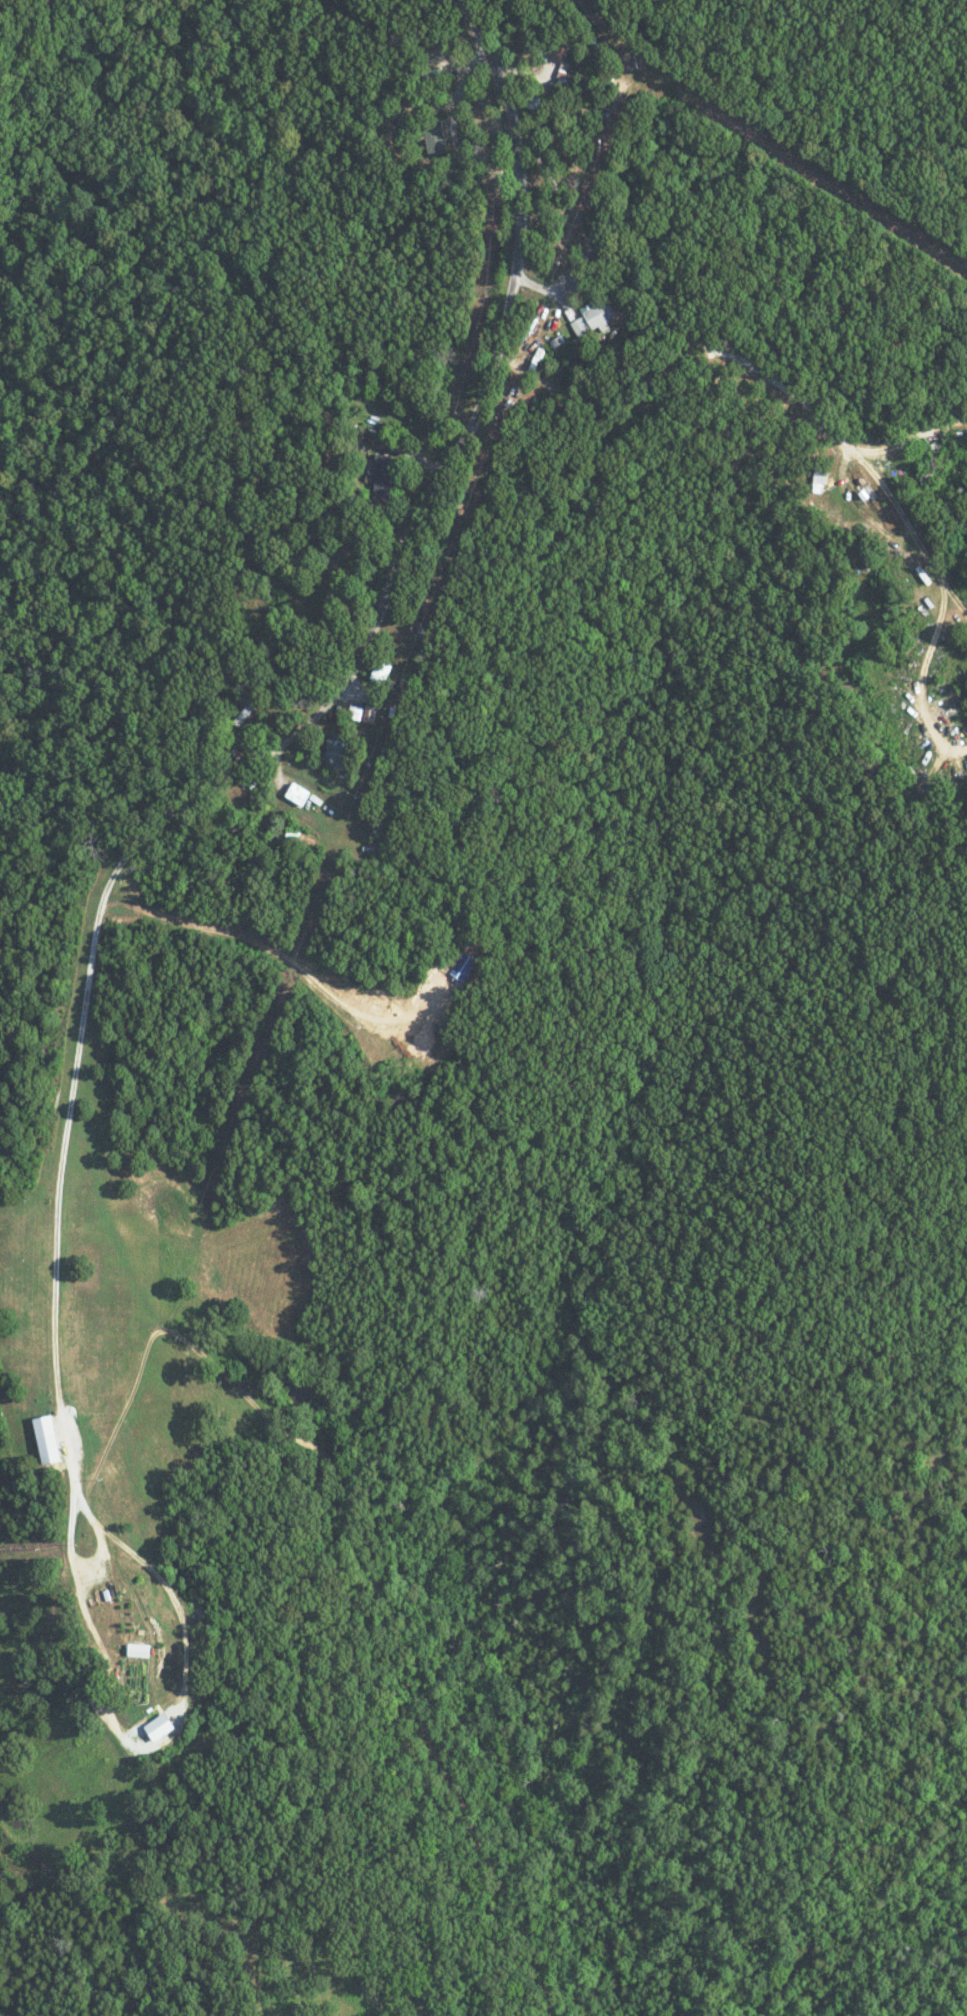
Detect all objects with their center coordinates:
building: (563, 83)
building: (436, 141)
road: (576, 224)
building: (596, 315)
road: (491, 354)
road: (780, 390)
building: (384, 475)
building: (867, 493)
road: (952, 605)
building: (382, 671)
road: (919, 683)
building: (247, 705)
building: (364, 712)
building: (338, 748)
building: (299, 794)
building: (464, 966)
road: (64, 1126)
building: (47, 1439)
road: (175, 1612)
building: (140, 1650)
building: (161, 1727)

